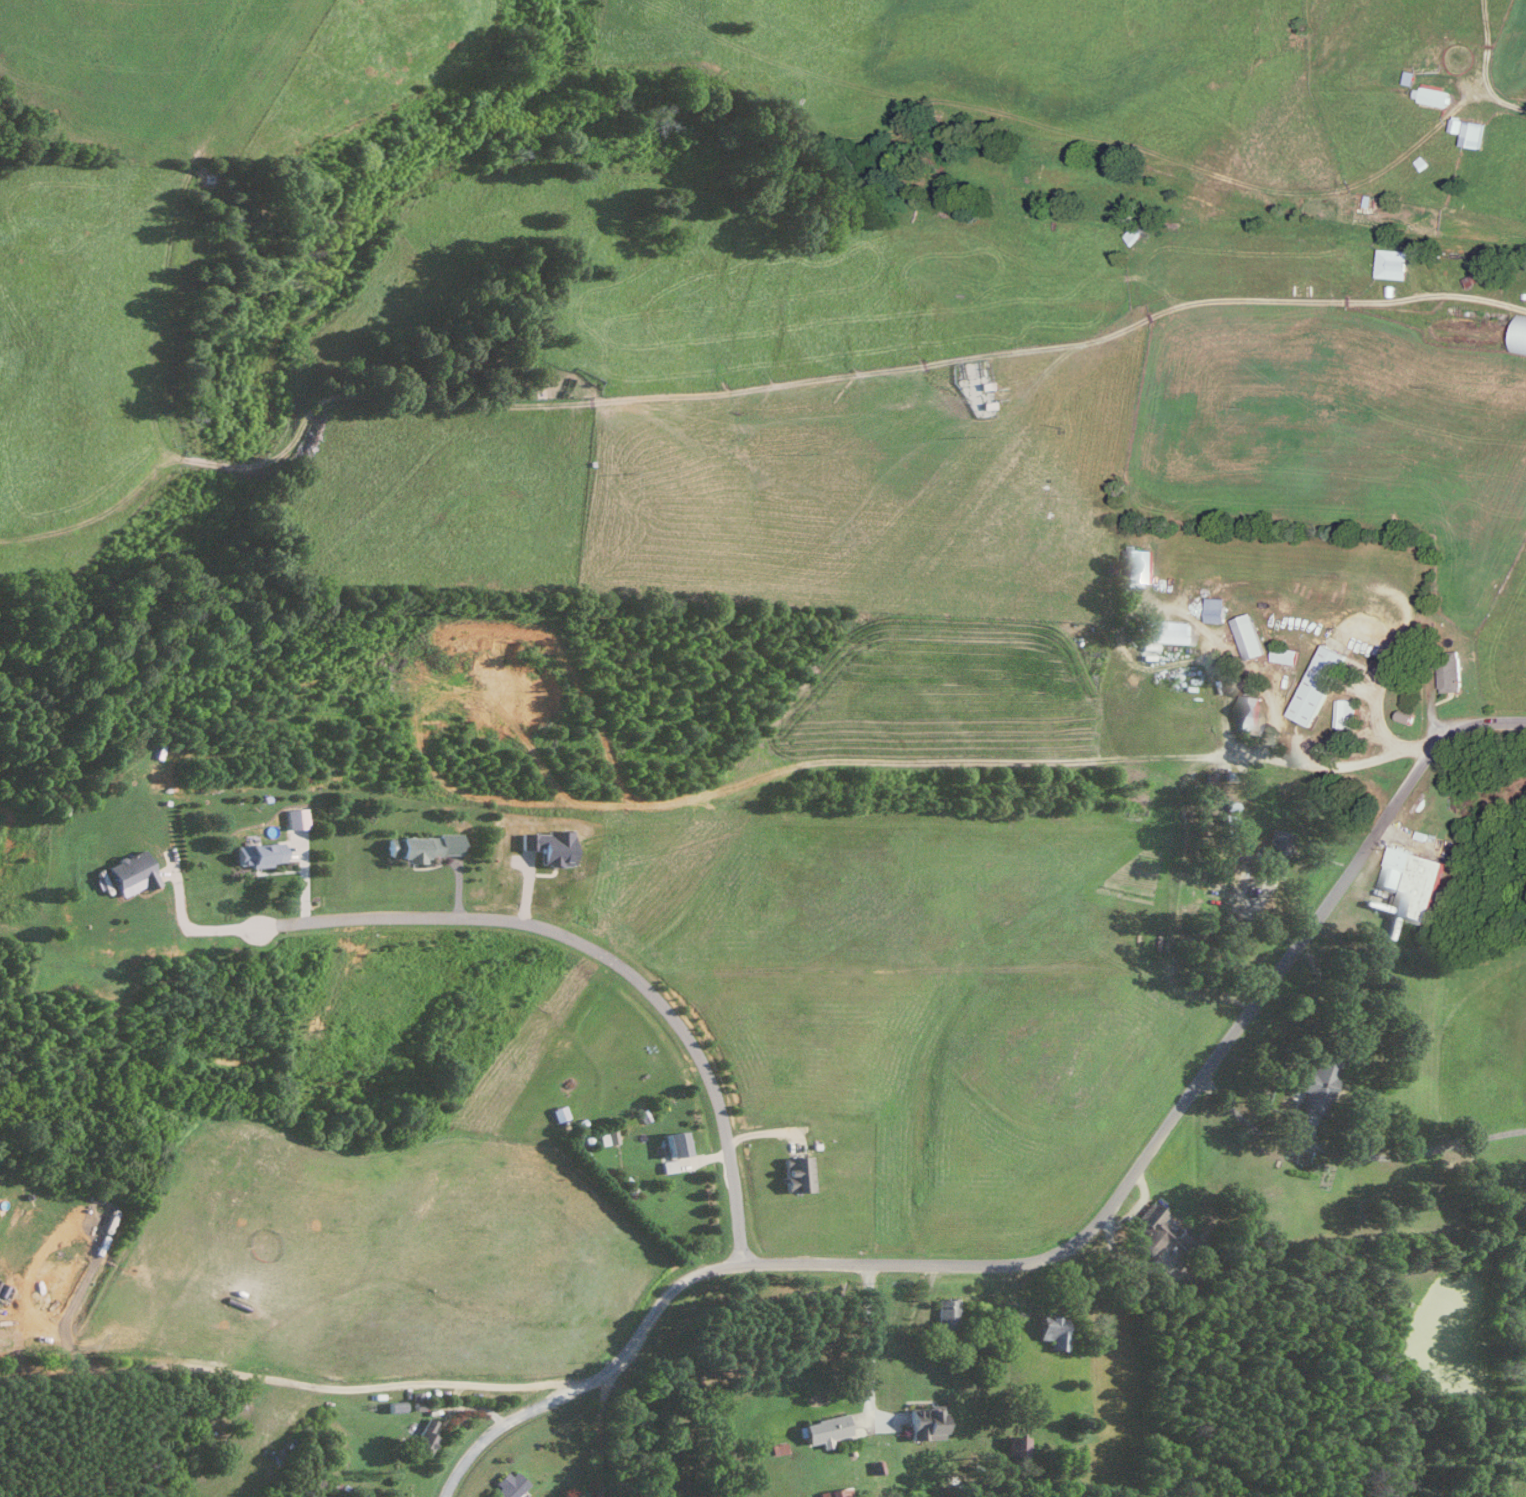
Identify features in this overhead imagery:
building: (1434, 93)
road: (1500, 99)
building: (1470, 130)
building: (1391, 262)
building: (1476, 275)
building: (1519, 334)
road: (847, 371)
building: (1140, 565)
building: (1216, 609)
building: (1169, 630)
building: (1249, 635)
building: (1286, 653)
building: (1450, 673)
building: (1318, 683)
building: (1346, 712)
building: (1250, 713)
building: (1406, 716)
road: (1327, 739)
building: (296, 817)
building: (422, 846)
building: (1275, 850)
building: (262, 855)
building: (131, 872)
road: (303, 877)
building: (1414, 883)
road: (458, 889)
road: (184, 922)
road: (599, 956)
building: (1317, 1081)
road: (766, 1131)
building: (607, 1134)
building: (675, 1141)
road: (1351, 1152)
road: (695, 1157)
building: (797, 1171)
building: (1152, 1226)
road: (1065, 1247)
building: (946, 1311)
building: (1053, 1329)
road: (868, 1336)
road: (299, 1378)
building: (925, 1421)
building: (826, 1428)
building: (426, 1435)
road: (599, 1437)
building: (1016, 1444)
building: (510, 1483)
building: (837, 1491)

